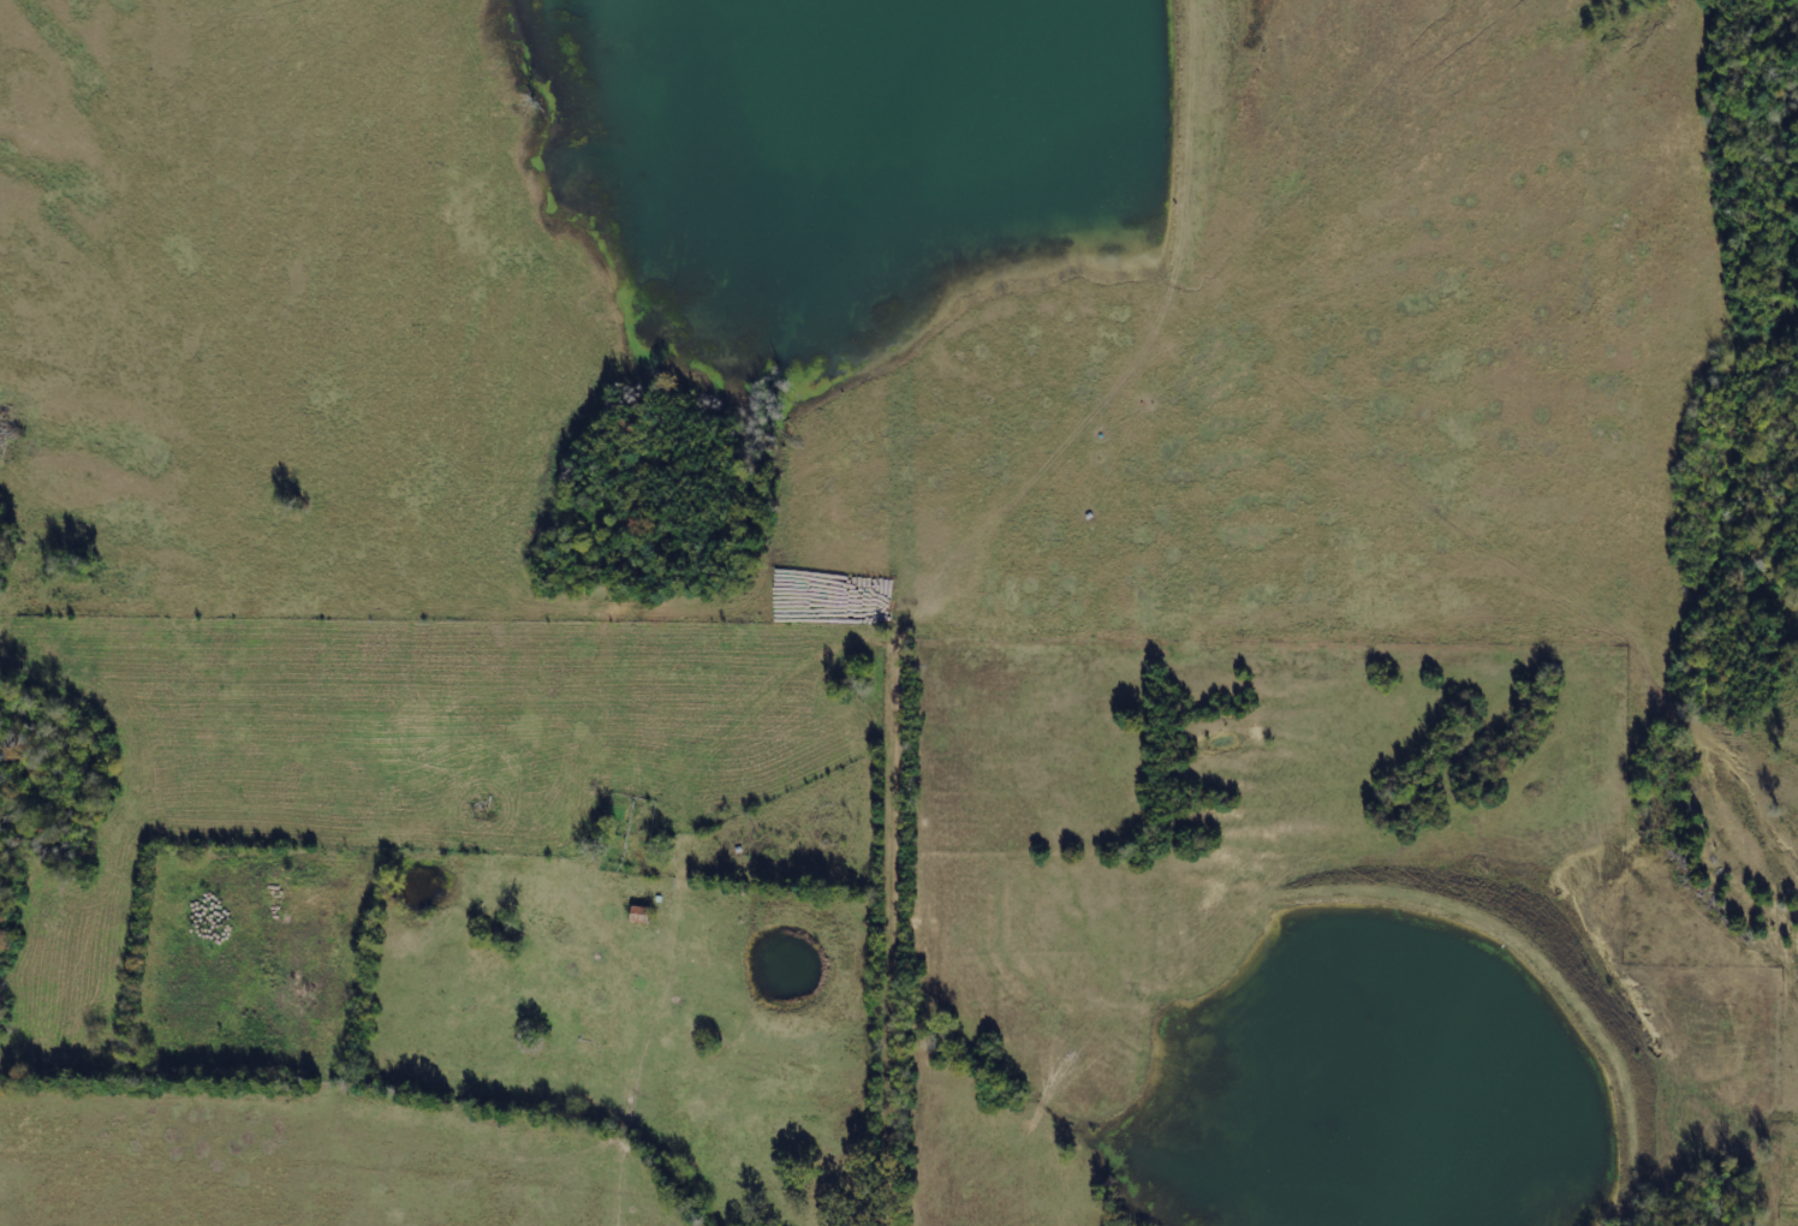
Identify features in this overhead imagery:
building: (642, 913)
road: (905, 993)

